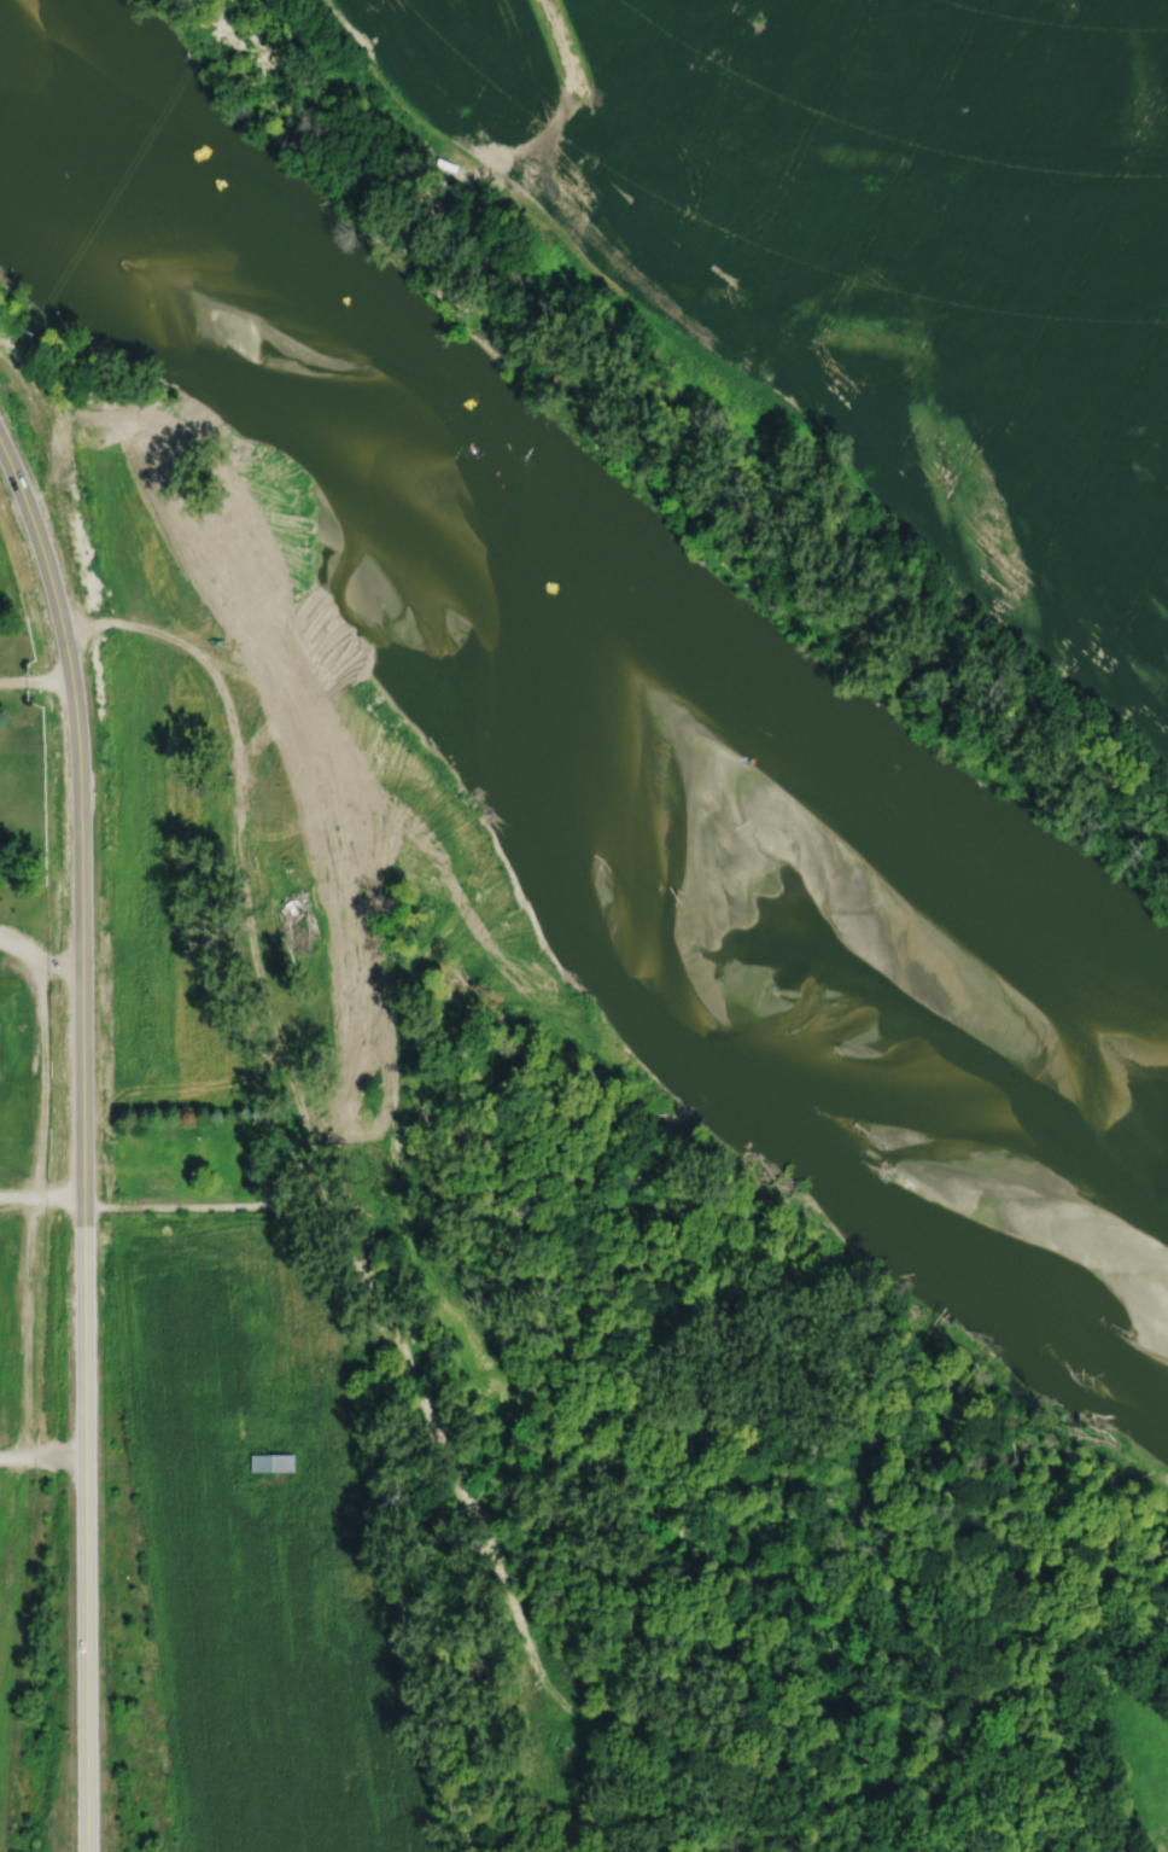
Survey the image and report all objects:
road: (43, 557)
river: (553, 610)
road: (35, 679)
road: (81, 821)
road: (19, 949)
road: (40, 966)
road: (35, 1077)
road: (306, 1118)
building: (262, 1158)
road: (41, 1188)
road: (188, 1206)
road: (28, 1321)
road: (83, 1409)
road: (41, 1454)
building: (271, 1462)
road: (11, 1592)

